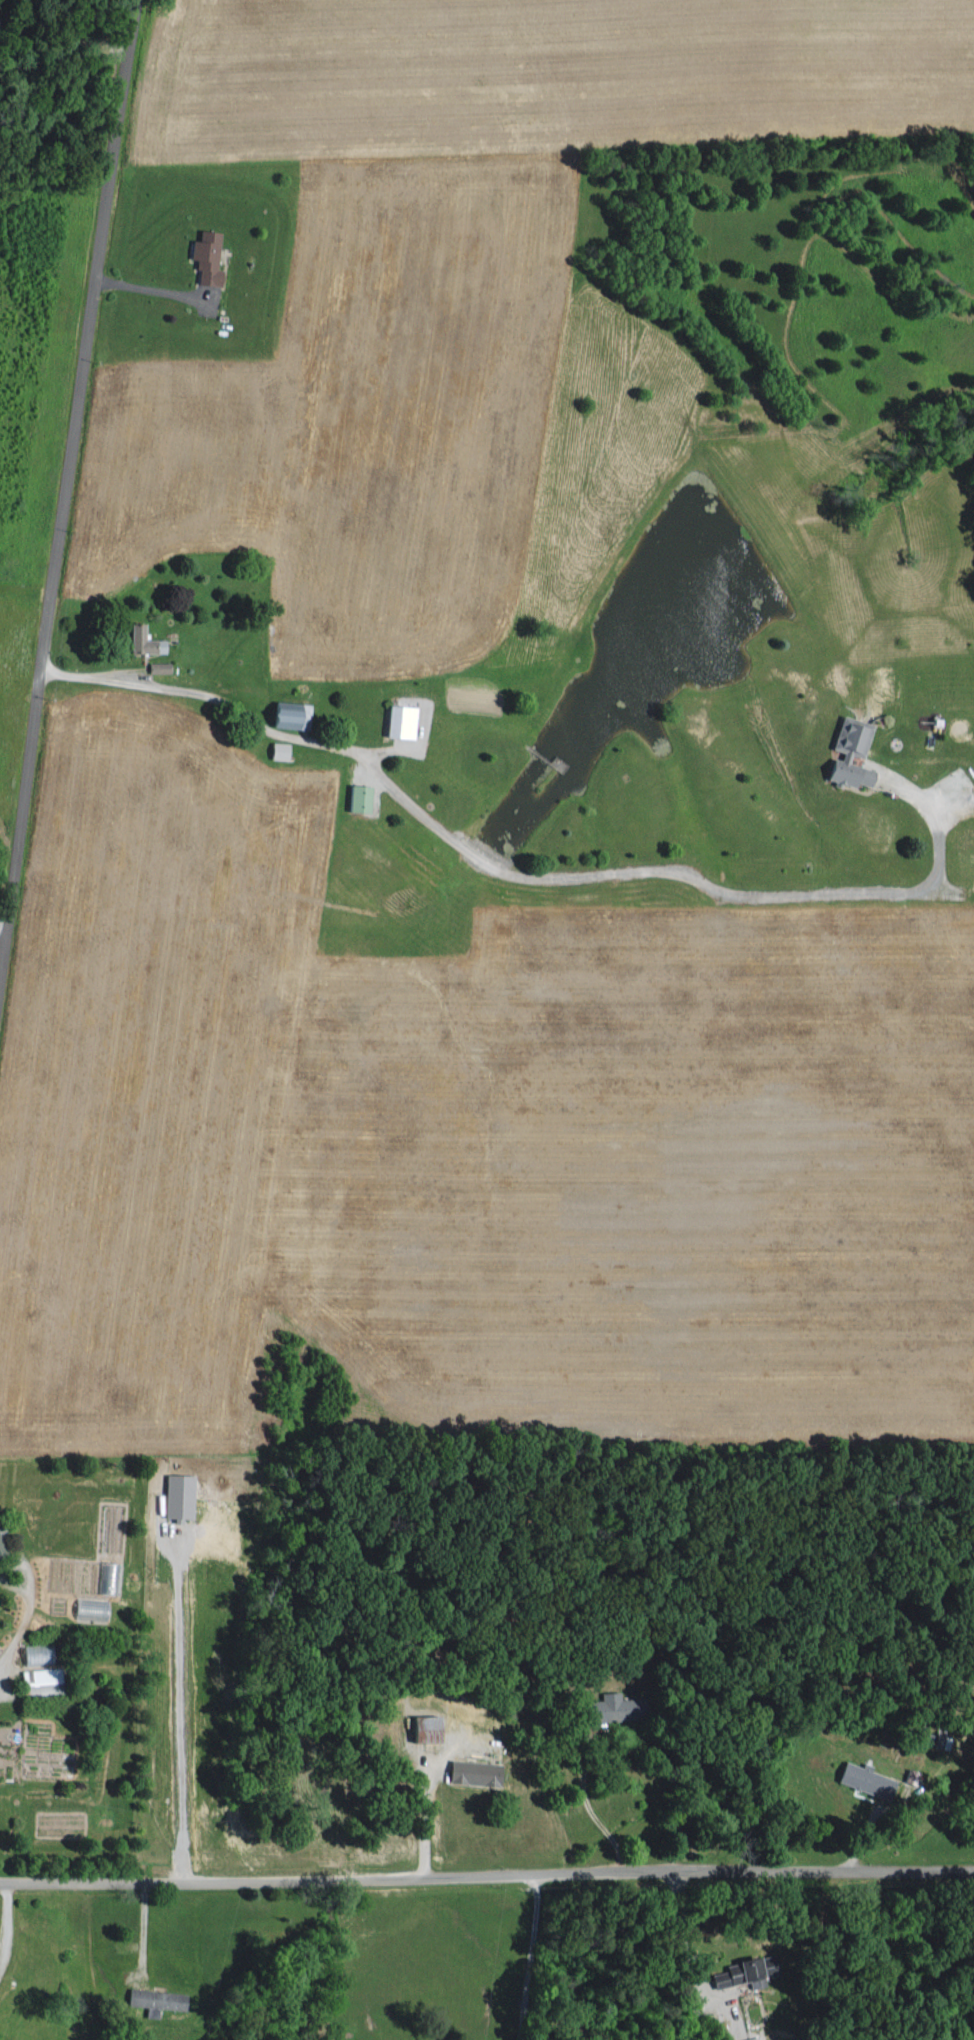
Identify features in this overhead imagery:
building: (203, 255)
road: (66, 487)
building: (132, 638)
building: (154, 644)
building: (156, 666)
building: (287, 713)
building: (396, 720)
building: (275, 749)
building: (846, 752)
building: (355, 796)
road: (525, 874)
building: (0, 1549)
building: (87, 1607)
building: (33, 1651)
building: (35, 1674)
building: (37, 1686)
building: (470, 1770)
building: (861, 1777)
road: (487, 1874)
building: (744, 1969)
building: (153, 1997)
building: (749, 2037)

